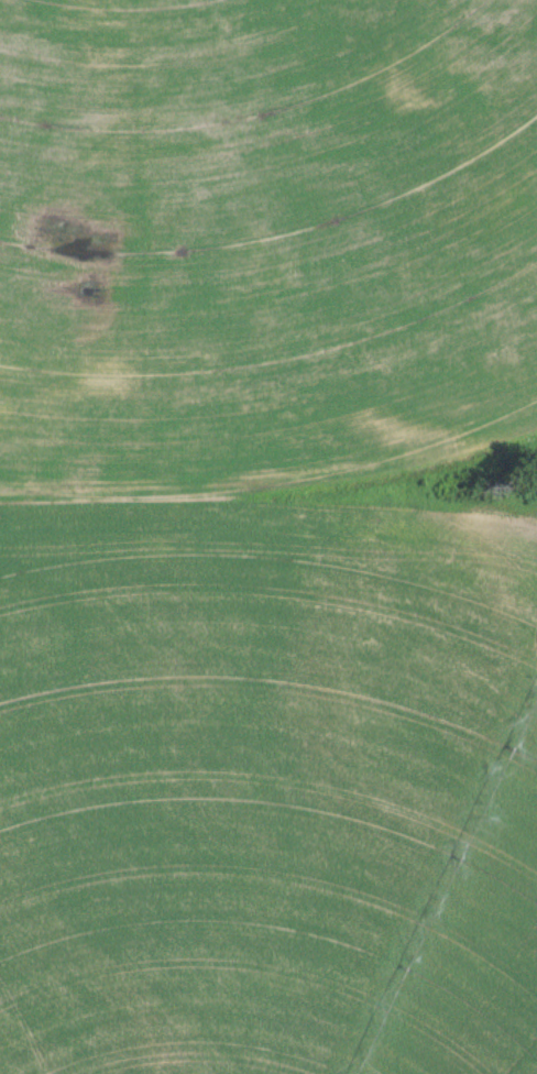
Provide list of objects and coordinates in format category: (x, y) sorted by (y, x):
wastewater plant: (268, 537)

